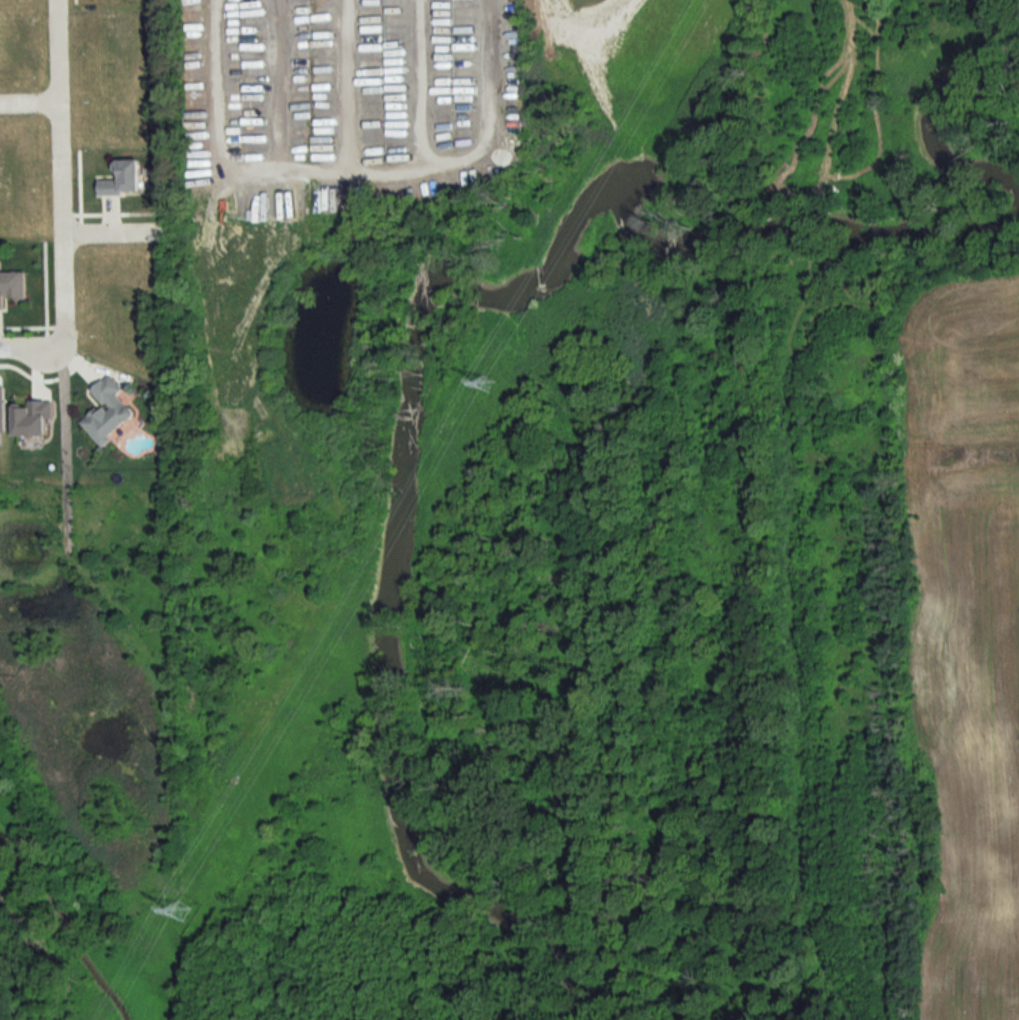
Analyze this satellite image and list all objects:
road: (30, 103)
river: (930, 127)
road: (61, 175)
building: (123, 180)
road: (111, 233)
building: (12, 286)
river: (410, 339)
road: (24, 346)
power tower: (494, 385)
building: (108, 411)
power tower: (182, 915)

